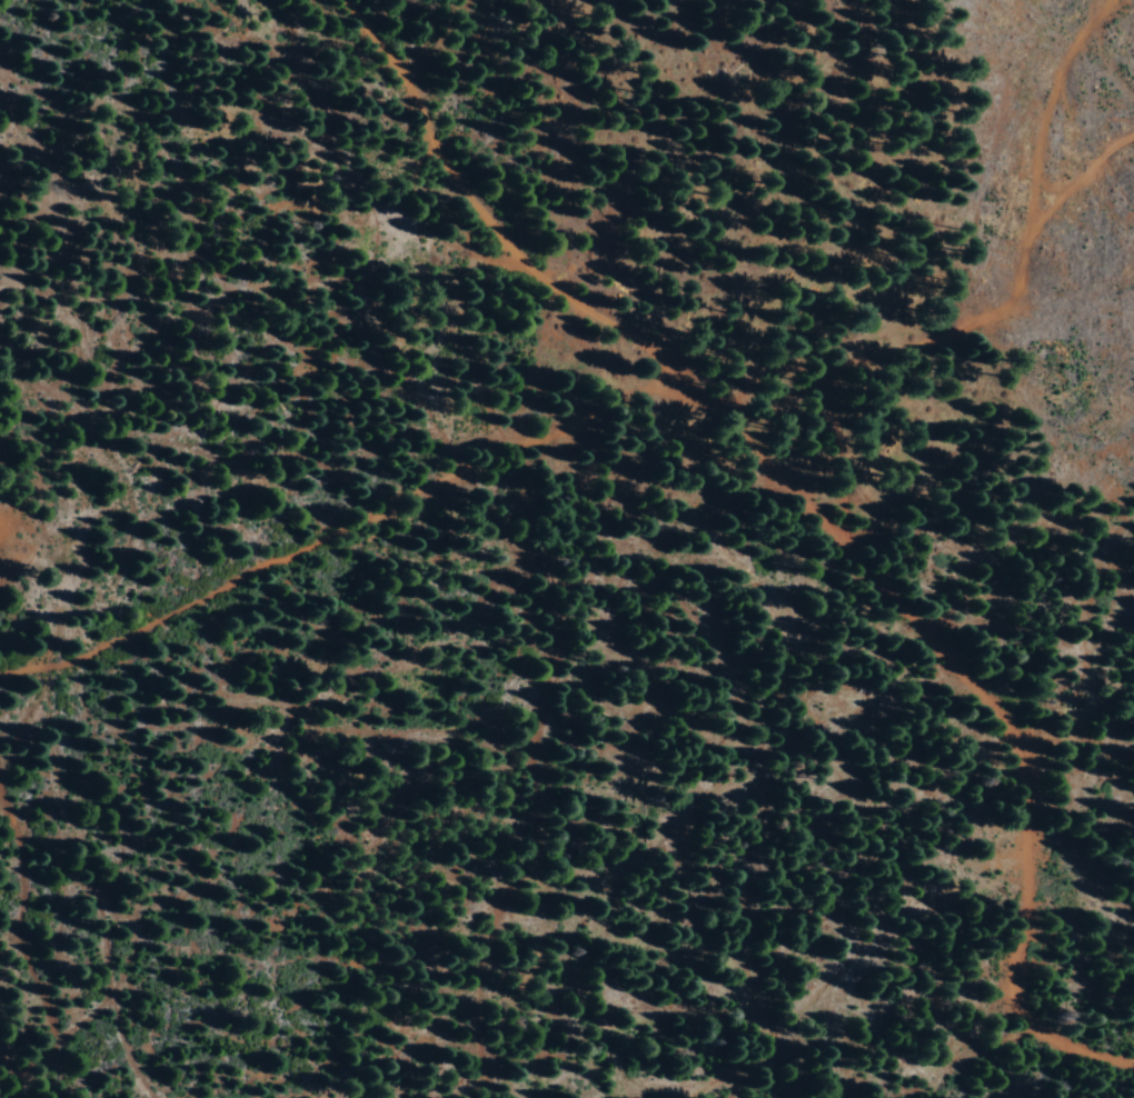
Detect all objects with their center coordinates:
road: (815, 493)

